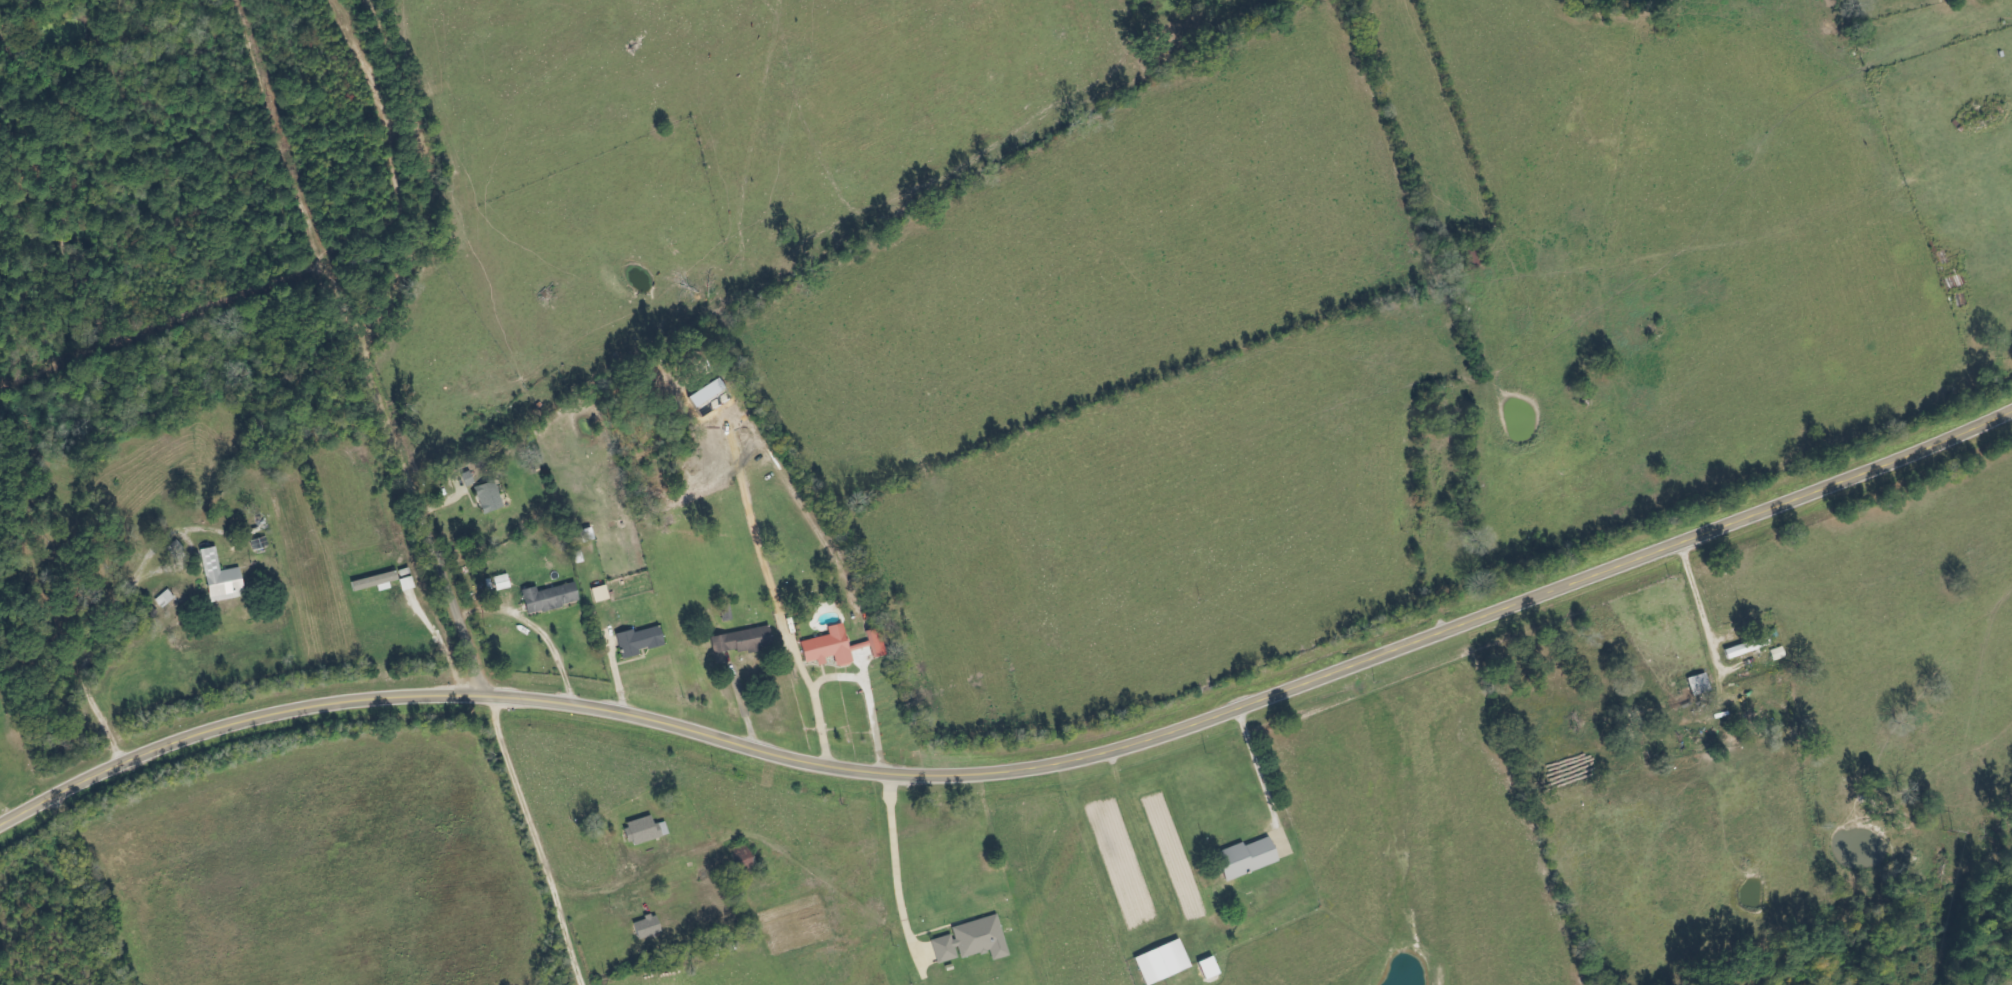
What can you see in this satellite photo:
road: (360, 344)
building: (490, 497)
building: (221, 577)
building: (375, 581)
building: (601, 594)
building: (550, 598)
building: (641, 641)
building: (743, 641)
building: (842, 646)
building: (1749, 647)
building: (1700, 684)
road: (1021, 767)
building: (645, 830)
power tower: (1948, 830)
building: (1247, 858)
building: (648, 927)
building: (973, 941)
building: (1164, 962)

